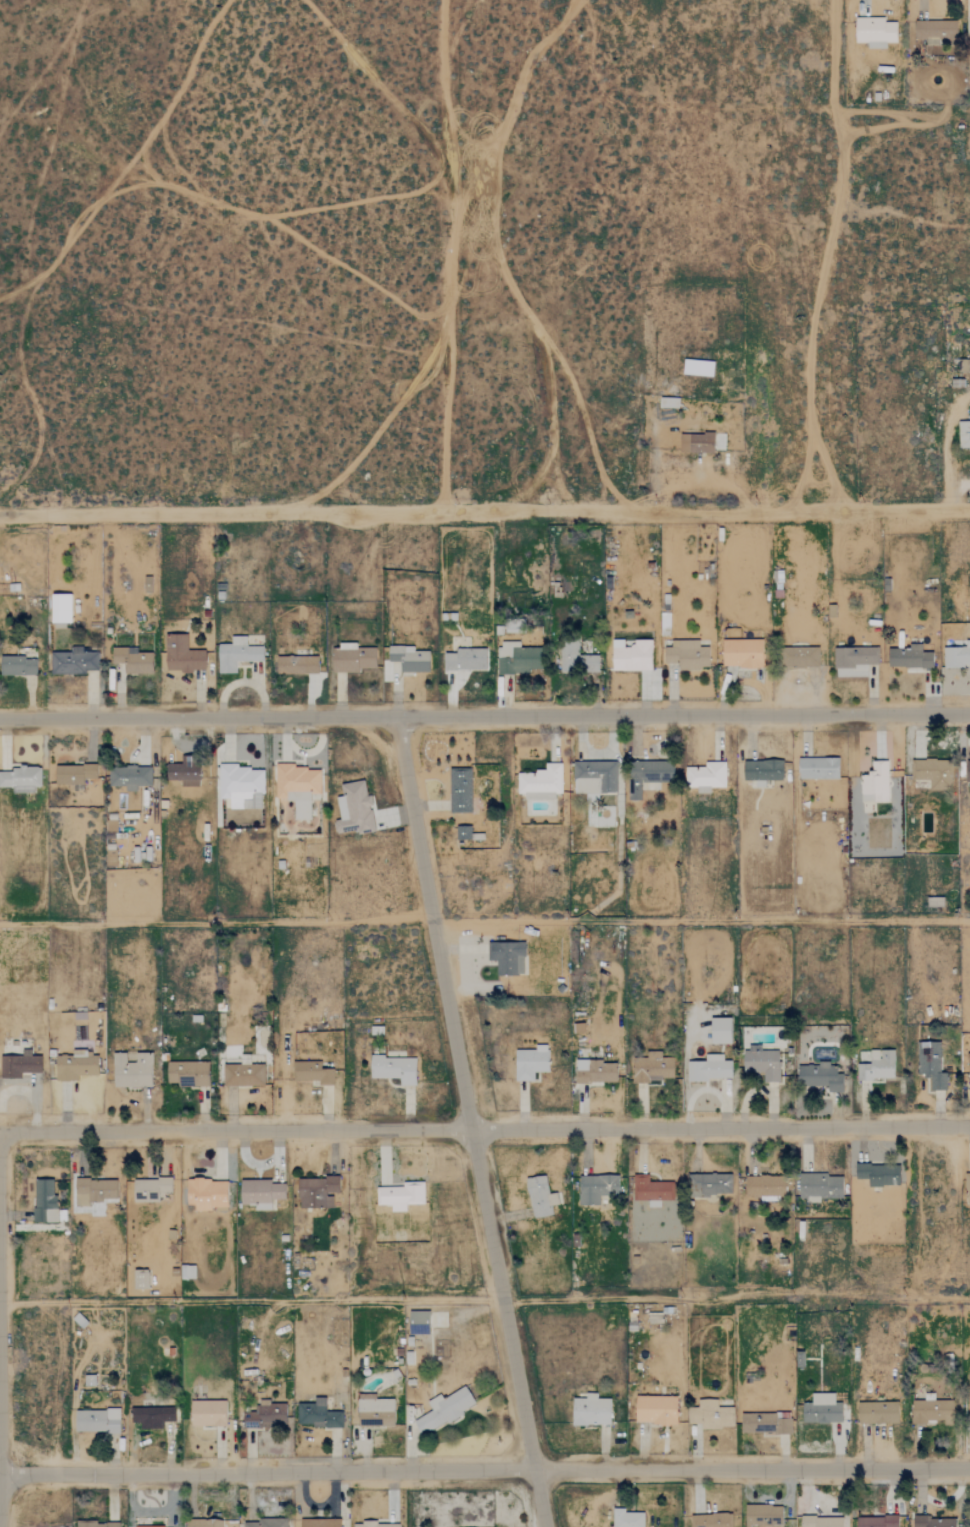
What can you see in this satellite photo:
building: (936, 31)
building: (874, 32)
building: (697, 368)
building: (963, 434)
building: (696, 443)
road: (484, 513)
building: (60, 609)
building: (236, 654)
building: (741, 654)
building: (181, 655)
building: (630, 655)
building: (686, 655)
building: (957, 656)
building: (802, 657)
building: (856, 657)
building: (518, 658)
building: (909, 658)
building: (352, 659)
building: (408, 659)
building: (576, 659)
building: (132, 660)
building: (464, 660)
building: (72, 662)
building: (296, 665)
building: (17, 666)
road: (485, 717)
building: (818, 768)
building: (967, 771)
building: (183, 772)
building: (74, 773)
building: (933, 773)
building: (647, 775)
building: (129, 776)
building: (705, 776)
building: (594, 777)
building: (21, 778)
building: (540, 782)
building: (875, 782)
building: (240, 786)
building: (296, 787)
building: (460, 790)
building: (353, 809)
building: (110, 828)
building: (462, 833)
building: (507, 957)
building: (720, 1030)
building: (530, 1062)
building: (761, 1063)
building: (19, 1064)
building: (930, 1064)
building: (877, 1065)
building: (75, 1067)
building: (652, 1067)
building: (709, 1068)
building: (393, 1069)
building: (131, 1070)
building: (595, 1072)
building: (312, 1073)
building: (193, 1074)
building: (243, 1075)
building: (819, 1076)
building: (968, 1077)
road: (469, 1122)
road: (484, 1130)
building: (878, 1174)
building: (709, 1184)
building: (819, 1186)
building: (765, 1187)
building: (150, 1188)
building: (595, 1188)
building: (967, 1188)
building: (650, 1189)
building: (93, 1190)
building: (316, 1191)
building: (260, 1192)
building: (206, 1194)
building: (400, 1195)
building: (540, 1197)
building: (43, 1200)
building: (187, 1272)
building: (143, 1280)
road: (251, 1299)
road: (736, 1299)
building: (418, 1322)
building: (969, 1406)
building: (655, 1409)
building: (821, 1409)
building: (443, 1410)
building: (590, 1410)
building: (932, 1411)
building: (375, 1412)
building: (207, 1413)
building: (877, 1413)
building: (151, 1415)
building: (264, 1415)
building: (318, 1415)
building: (709, 1415)
building: (96, 1421)
building: (764, 1424)
road: (484, 1470)
building: (762, 1515)
building: (626, 1518)
building: (711, 1520)
building: (821, 1521)
building: (877, 1521)
building: (933, 1522)
building: (204, 1523)
building: (264, 1523)
building: (319, 1523)
building: (96, 1524)
building: (375, 1525)

